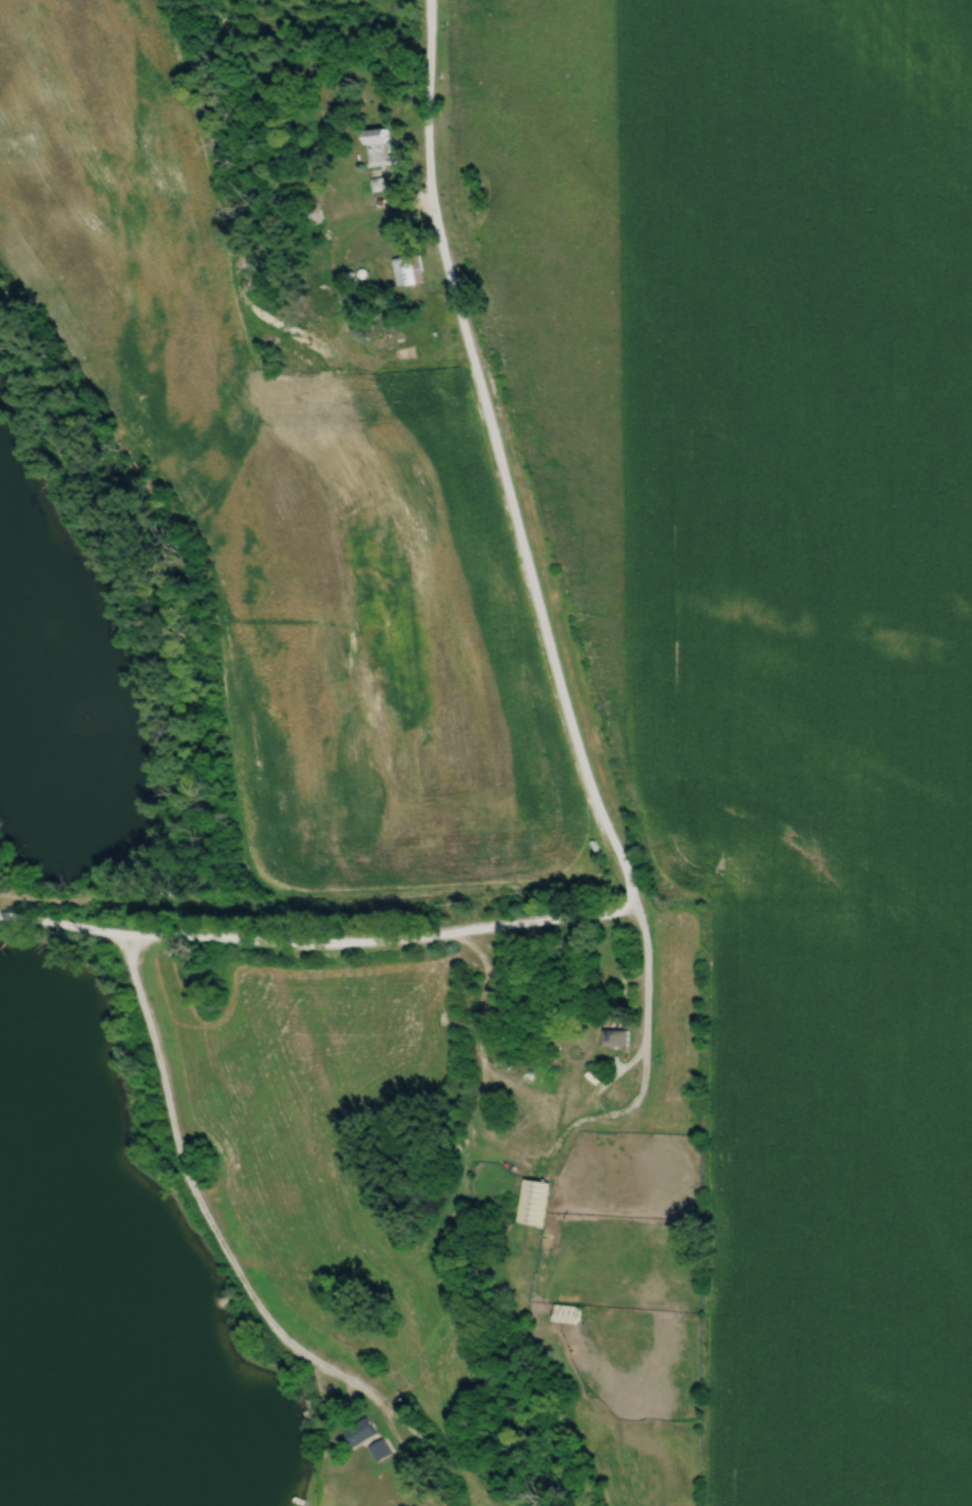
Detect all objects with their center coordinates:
building: (379, 147)
building: (409, 271)
road: (517, 531)
road: (317, 940)
building: (616, 1038)
road: (478, 1097)
road: (623, 1115)
building: (534, 1203)
road: (234, 1255)
building: (568, 1315)
building: (361, 1433)
building: (382, 1451)

